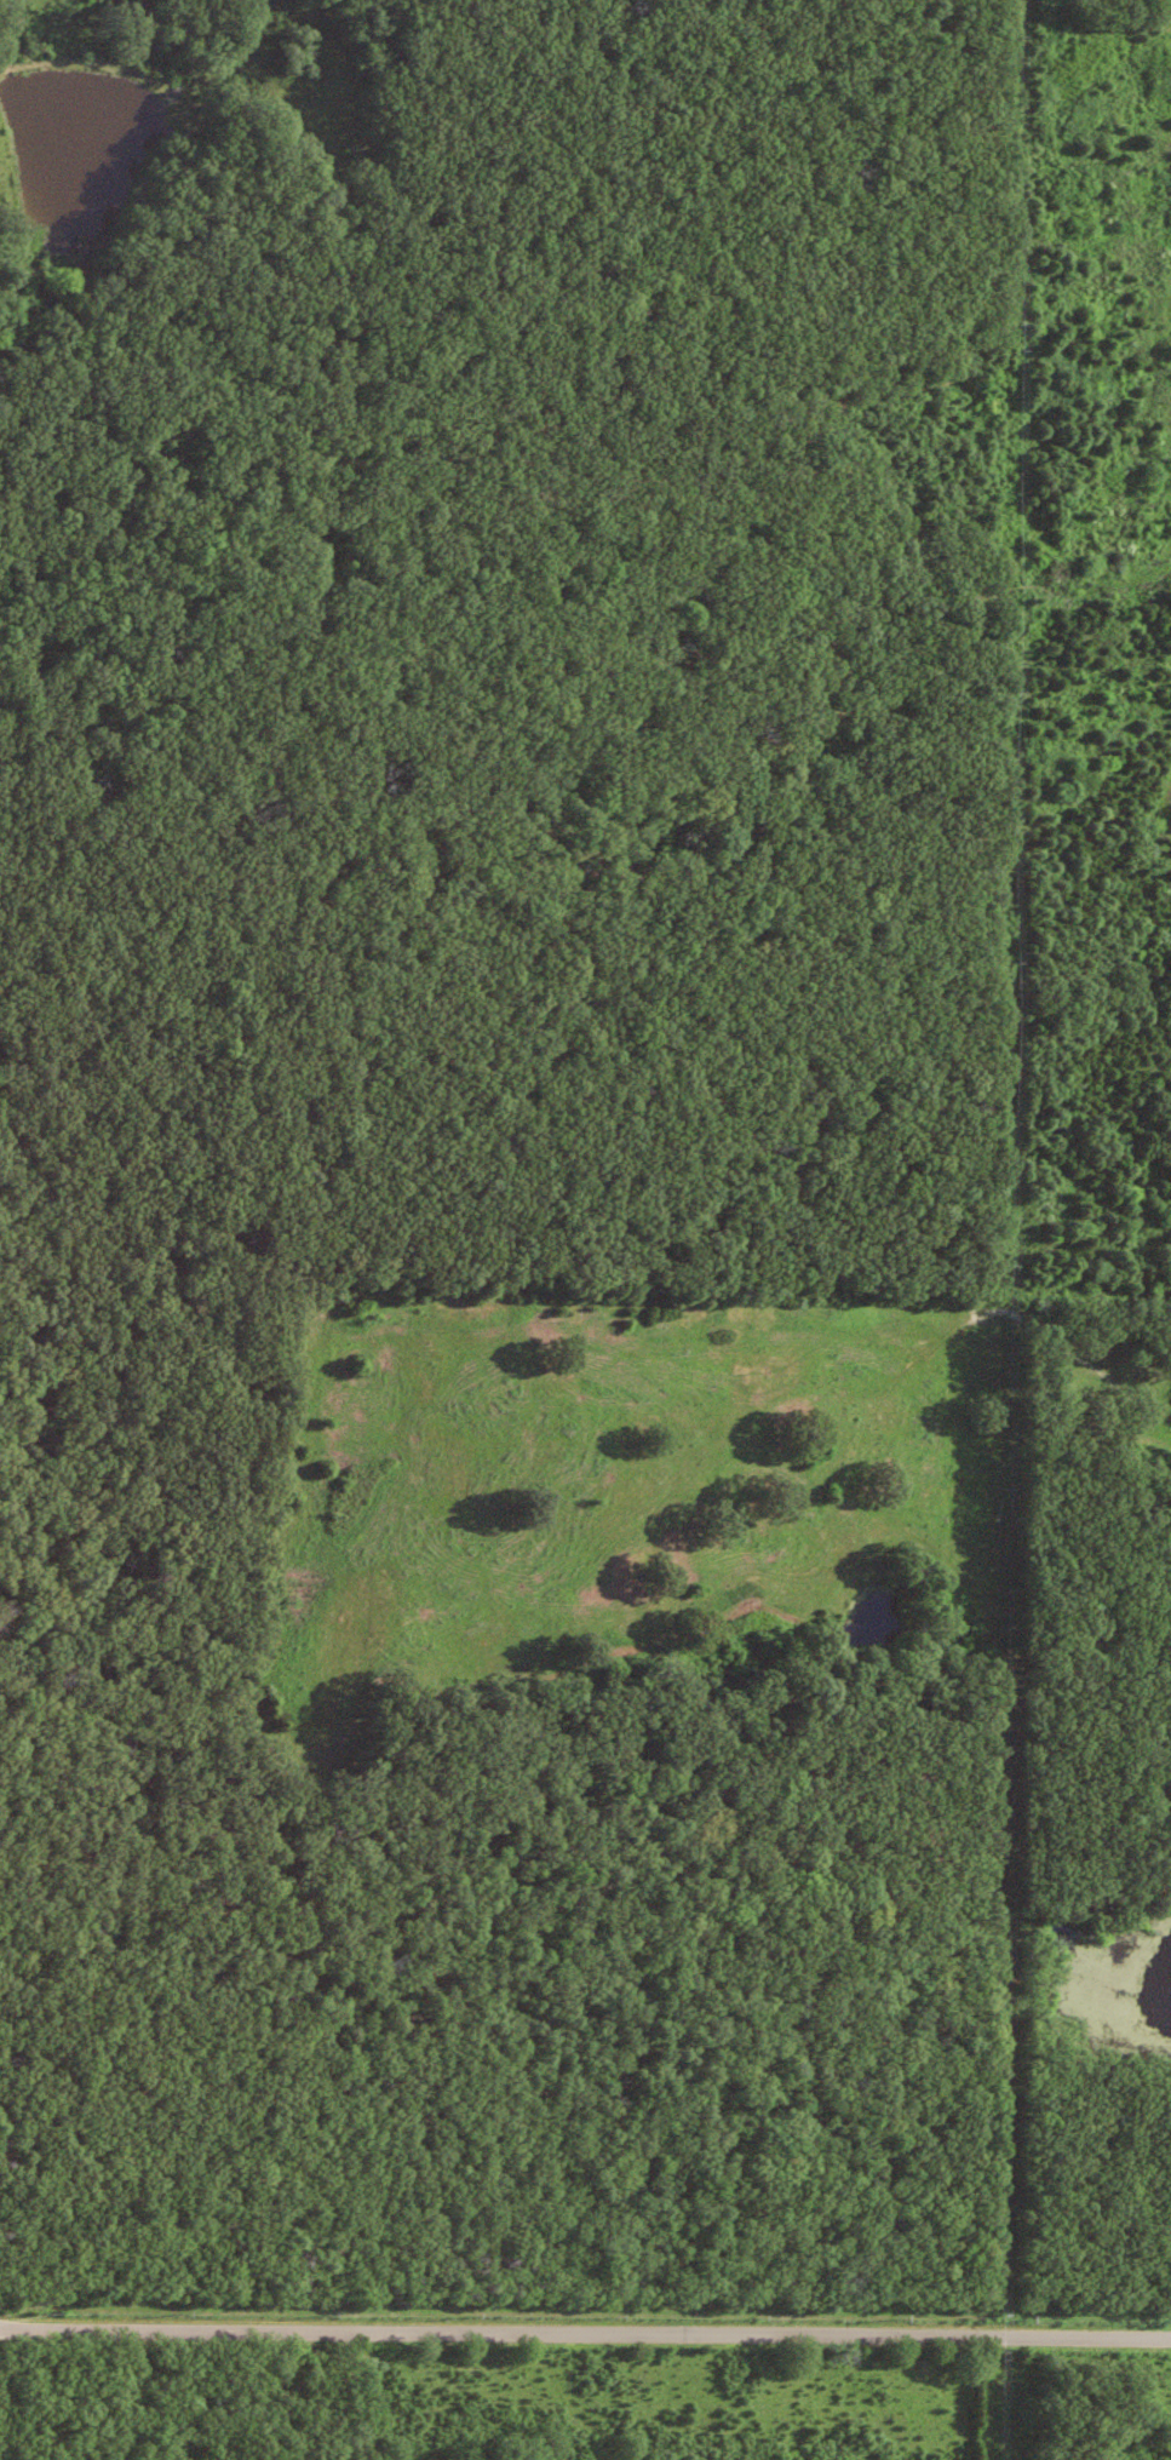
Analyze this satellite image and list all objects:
road: (585, 2335)

